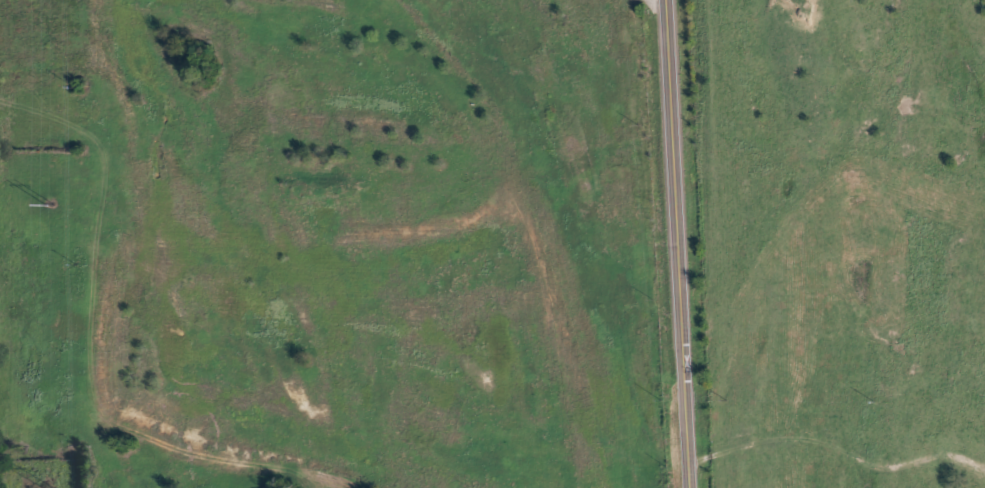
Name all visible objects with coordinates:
road: (678, 244)

